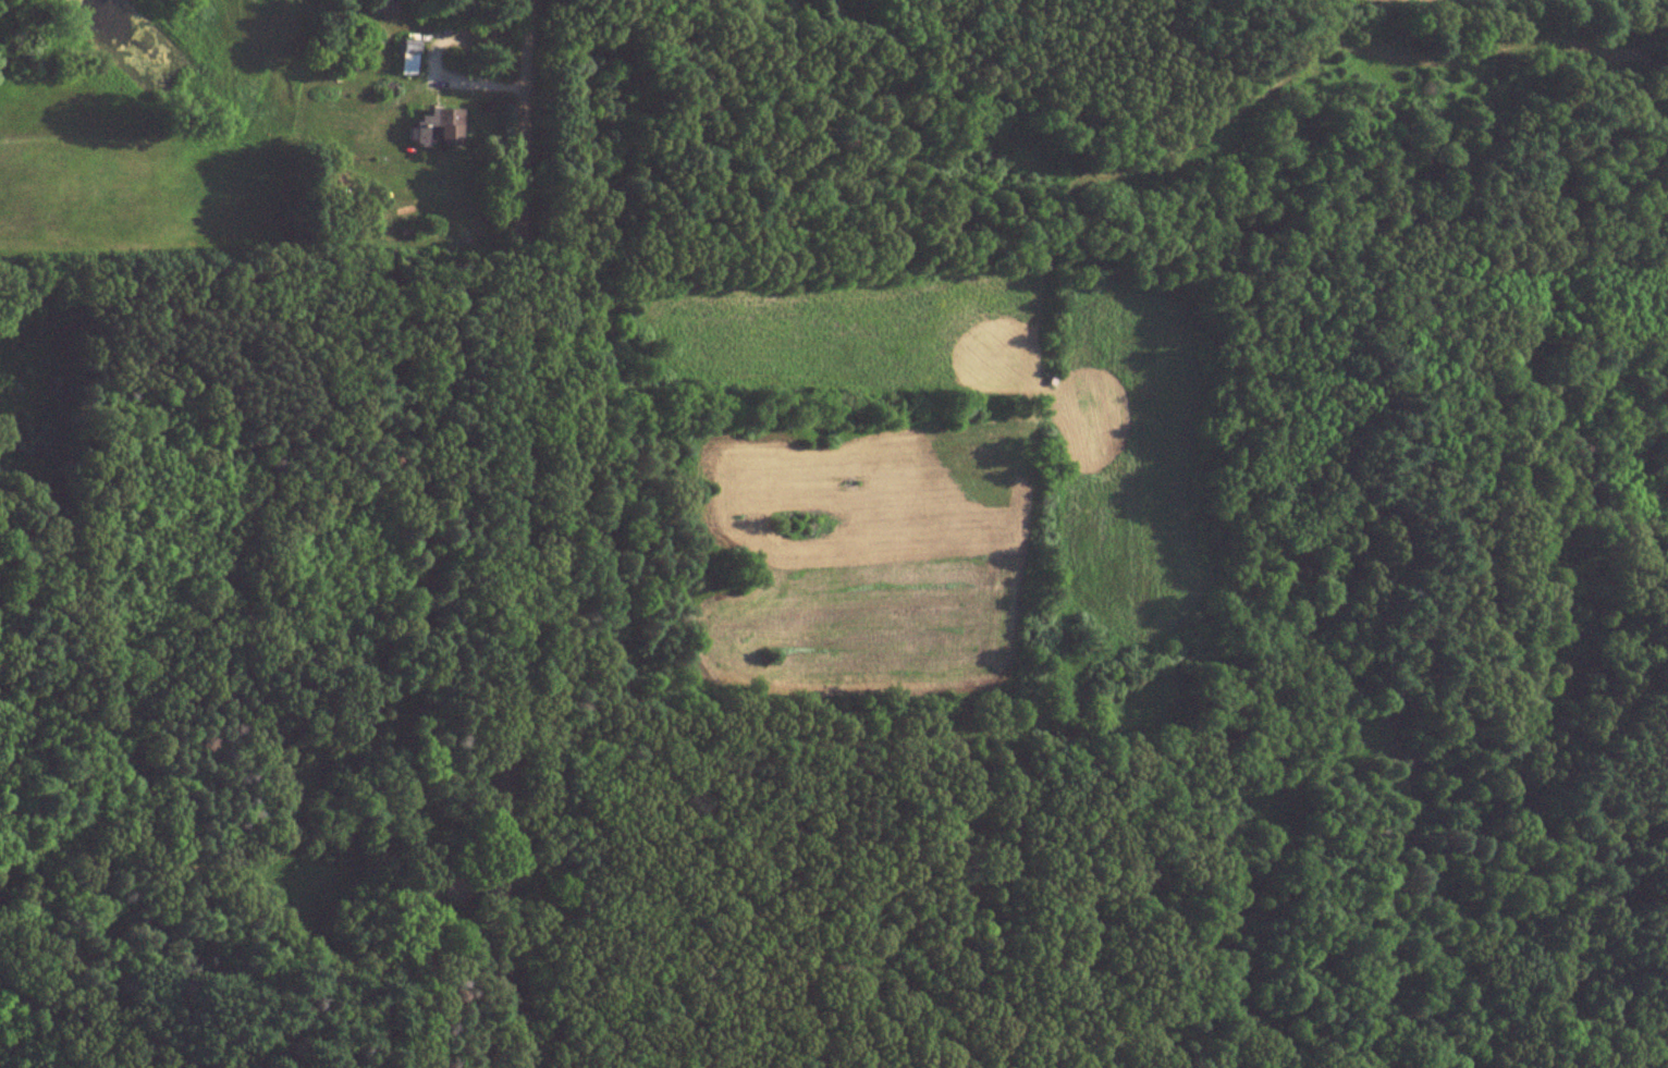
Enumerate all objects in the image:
building: (378, 4)
road: (1501, 52)
building: (405, 56)
building: (439, 126)
road: (513, 533)

